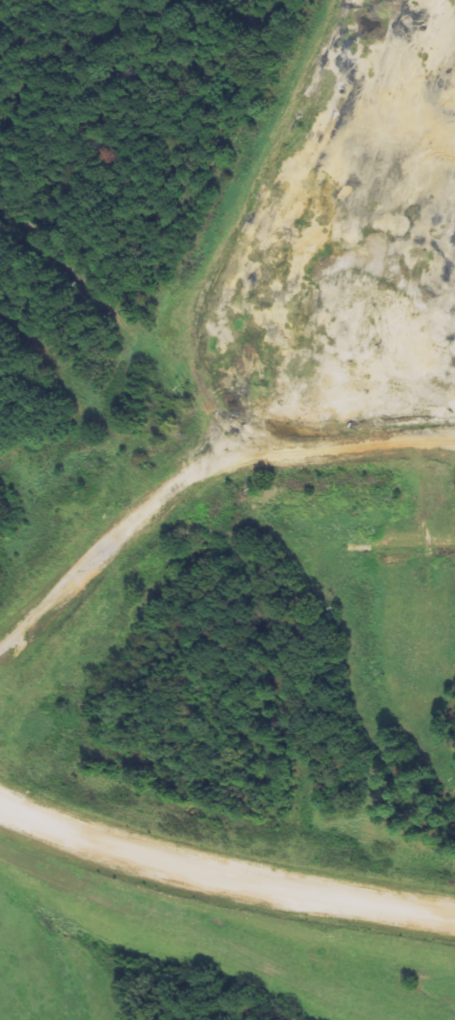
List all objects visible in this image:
road: (222, 878)

